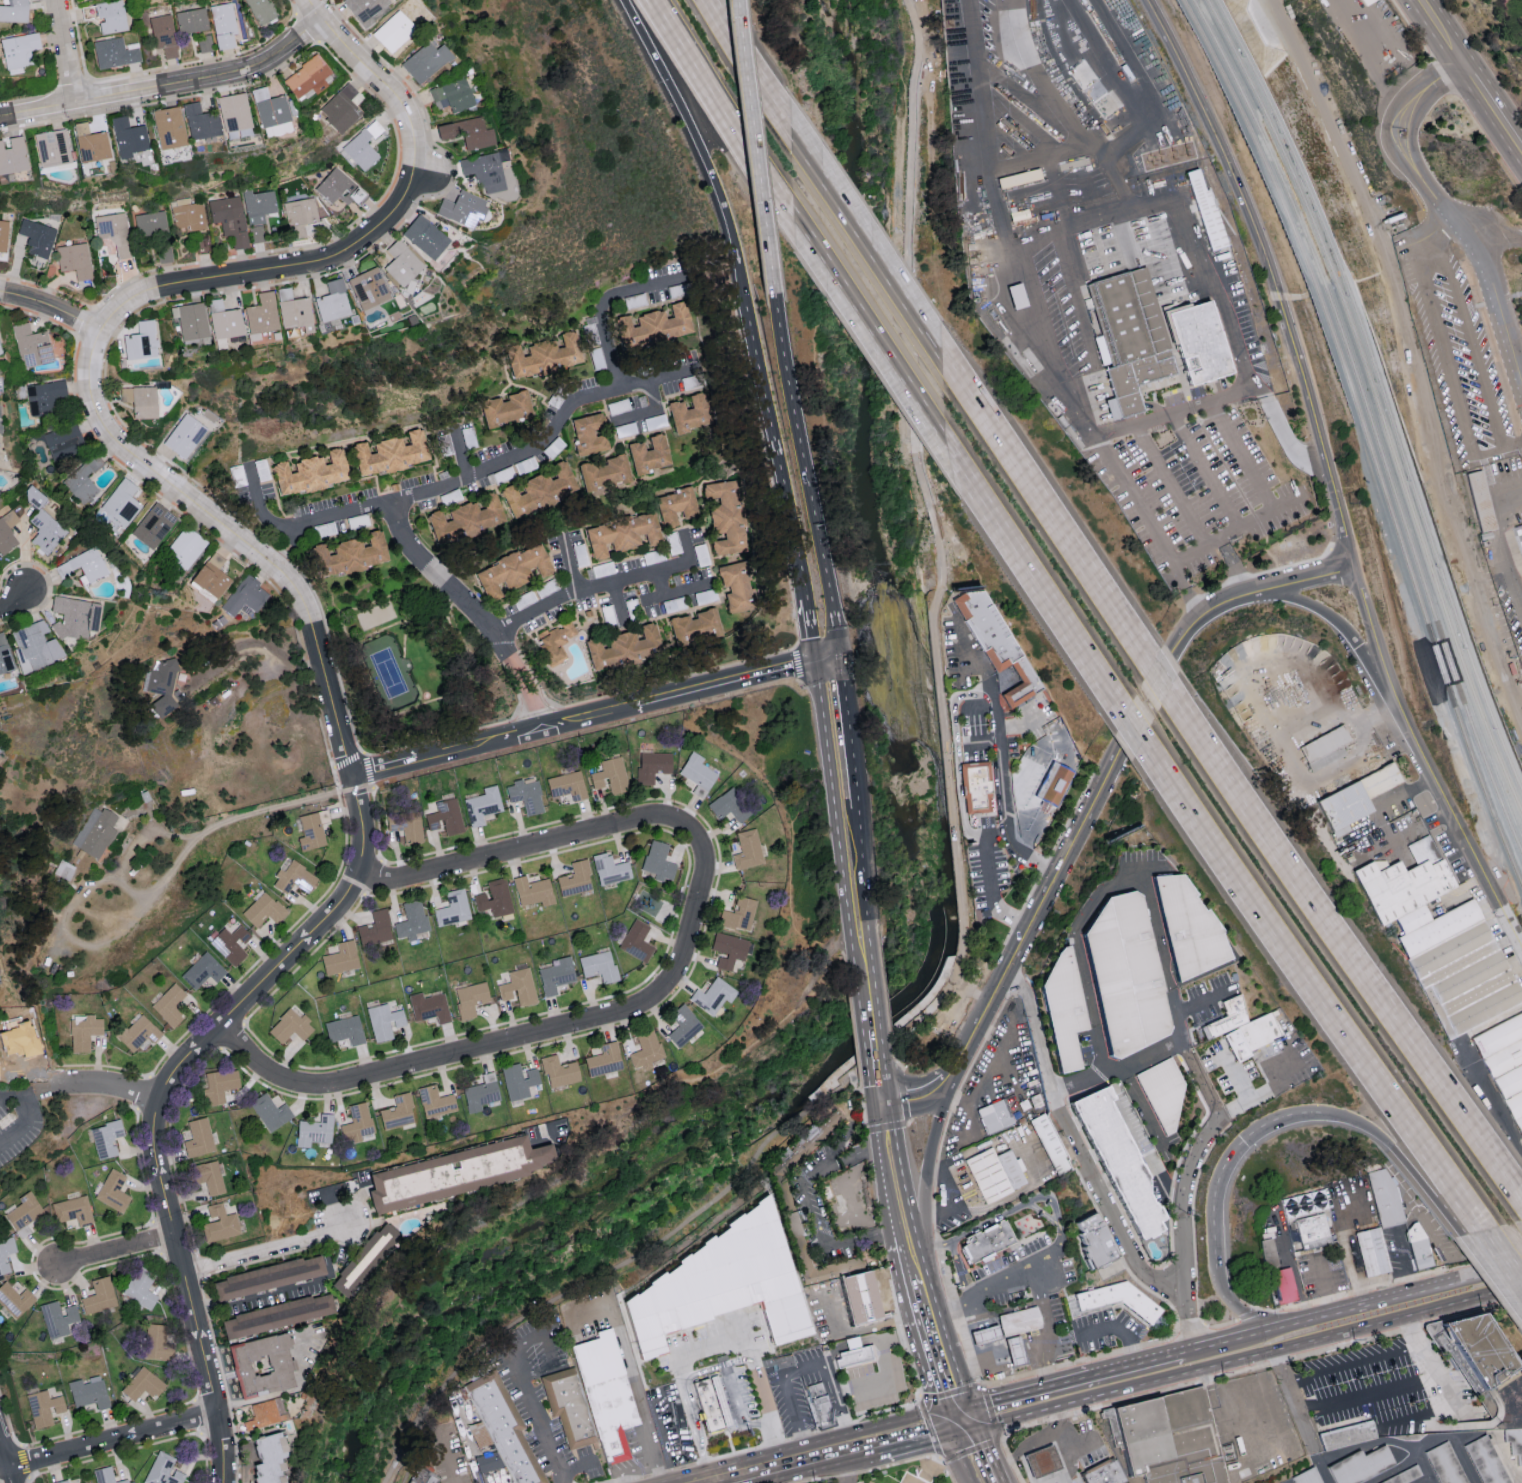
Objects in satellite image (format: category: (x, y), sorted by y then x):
building: (1366, 1)
building: (261, 10)
building: (363, 10)
building: (14, 11)
building: (111, 16)
building: (191, 20)
building: (223, 24)
road: (1441, 27)
building: (392, 31)
building: (163, 34)
building: (19, 49)
road: (68, 52)
building: (114, 53)
road: (747, 55)
building: (424, 61)
building: (306, 77)
road: (167, 87)
building: (450, 94)
road: (1490, 101)
building: (342, 107)
road: (715, 108)
building: (232, 111)
building: (270, 112)
building: (199, 121)
road: (1325, 124)
building: (167, 127)
building: (466, 132)
building: (127, 136)
building: (89, 143)
building: (361, 146)
building: (51, 147)
road: (705, 147)
road: (753, 148)
building: (13, 155)
road: (1051, 156)
building: (485, 170)
building: (1024, 177)
building: (339, 187)
building: (259, 205)
road: (1434, 207)
building: (463, 208)
building: (1206, 208)
building: (300, 215)
building: (230, 218)
road: (1484, 219)
building: (151, 223)
road: (1411, 232)
building: (114, 233)
building: (257, 233)
building: (3, 234)
building: (425, 236)
building: (37, 237)
road: (865, 238)
building: (75, 259)
building: (402, 262)
road: (1270, 274)
building: (369, 288)
building: (333, 301)
road: (601, 307)
road: (51, 309)
building: (294, 310)
road: (113, 314)
building: (261, 315)
building: (190, 321)
building: (223, 322)
building: (654, 328)
road: (1468, 334)
building: (1128, 338)
road: (870, 339)
building: (141, 341)
building: (1198, 343)
building: (32, 345)
parking lot: (1456, 348)
building: (0, 352)
building: (544, 356)
road: (1449, 370)
railway: (1382, 391)
building: (45, 396)
building: (140, 401)
railway: (1376, 403)
building: (506, 409)
road: (1177, 409)
building: (689, 413)
road: (1428, 415)
railway: (1370, 423)
road: (1285, 430)
building: (589, 434)
building: (184, 435)
railway: (1365, 438)
building: (64, 441)
road: (777, 452)
building: (391, 453)
road: (1242, 453)
building: (649, 454)
road: (506, 459)
road: (1205, 468)
building: (605, 472)
building: (312, 473)
road: (806, 478)
building: (83, 480)
road: (1170, 483)
parking lot: (1195, 488)
building: (540, 491)
building: (33, 496)
road: (1040, 501)
building: (1480, 501)
building: (121, 503)
building: (677, 506)
road: (260, 512)
road: (1256, 516)
building: (726, 517)
building: (465, 520)
building: (154, 525)
road: (1147, 525)
building: (1521, 528)
building: (7, 531)
building: (45, 531)
building: (622, 534)
building: (186, 547)
road: (287, 547)
road: (1193, 549)
road: (1498, 551)
building: (350, 554)
road: (568, 561)
road: (1233, 563)
building: (83, 565)
road: (1023, 570)
building: (512, 571)
road: (1257, 574)
building: (212, 575)
road: (938, 578)
road: (586, 586)
building: (735, 586)
building: (245, 596)
road: (14, 601)
road: (477, 607)
building: (74, 617)
road: (1193, 620)
road: (1338, 623)
road: (1495, 623)
building: (695, 627)
road: (813, 630)
building: (555, 642)
building: (996, 644)
building: (36, 645)
road: (249, 645)
building: (624, 648)
building: (4, 656)
traffic signals: (827, 661)
road: (1160, 682)
building: (161, 684)
road: (976, 710)
road: (1307, 716)
road: (589, 717)
road: (1278, 727)
road: (1126, 728)
parking lot: (972, 732)
road: (836, 734)
road: (980, 741)
building: (1325, 750)
road: (956, 759)
road: (998, 759)
road: (1425, 764)
building: (653, 766)
building: (698, 774)
building: (610, 776)
building: (567, 785)
building: (975, 787)
building: (1054, 787)
building: (526, 795)
building: (1355, 798)
building: (482, 804)
building: (729, 805)
road: (1377, 809)
building: (446, 816)
road: (625, 824)
building: (406, 825)
building: (312, 828)
road: (1419, 828)
building: (95, 831)
road: (994, 833)
building: (748, 849)
road: (1050, 853)
building: (658, 860)
parking lot: (984, 864)
building: (610, 868)
building: (64, 869)
river: (919, 871)
road: (853, 874)
road: (1058, 874)
building: (294, 877)
building: (575, 878)
building: (1400, 883)
building: (533, 890)
road: (149, 893)
road: (989, 895)
road: (1460, 895)
building: (495, 897)
building: (263, 909)
building: (452, 909)
building: (739, 913)
building: (412, 920)
building: (375, 928)
building: (1188, 929)
building: (637, 940)
building: (231, 943)
road: (1076, 946)
building: (729, 949)
building: (341, 957)
road: (1161, 960)
building: (599, 965)
road: (1353, 967)
building: (1458, 968)
building: (203, 969)
building: (556, 974)
building: (1125, 976)
road: (867, 986)
building: (518, 987)
road: (1010, 990)
building: (713, 995)
road: (885, 996)
building: (470, 998)
building: (170, 1004)
road: (1315, 1005)
building: (429, 1006)
building: (1214, 1008)
building: (1061, 1010)
building: (384, 1021)
building: (683, 1025)
building: (290, 1026)
road: (853, 1027)
building: (345, 1029)
road: (977, 1029)
building: (84, 1031)
building: (137, 1032)
building: (1259, 1033)
building: (10, 1034)
building: (1235, 1045)
building: (646, 1049)
road: (1185, 1050)
building: (604, 1059)
road: (877, 1060)
road: (418, 1062)
building: (1505, 1065)
road: (989, 1066)
road: (1470, 1067)
road: (1116, 1070)
building: (559, 1071)
road: (1098, 1073)
road: (1234, 1074)
road: (845, 1078)
building: (518, 1080)
building: (218, 1084)
road: (108, 1085)
road: (1262, 1087)
road: (37, 1088)
building: (481, 1092)
road: (928, 1093)
road: (162, 1094)
building: (1164, 1097)
road: (881, 1098)
building: (435, 1101)
road: (893, 1105)
traffic signals: (883, 1107)
road: (967, 1110)
building: (271, 1111)
building: (398, 1112)
road: (29, 1114)
road: (862, 1114)
road: (905, 1115)
building: (997, 1119)
building: (357, 1122)
building: (314, 1130)
building: (199, 1137)
building: (106, 1138)
building: (1054, 1151)
road: (1144, 1151)
road: (1403, 1158)
road: (1197, 1159)
road: (1227, 1163)
building: (1117, 1166)
building: (459, 1171)
road: (1363, 1173)
building: (994, 1174)
road: (892, 1175)
road: (1089, 1175)
building: (210, 1176)
road: (924, 1184)
road: (934, 1187)
road: (1022, 1190)
building: (113, 1191)
road: (952, 1193)
road: (1321, 1199)
building: (1386, 1200)
road: (812, 1207)
building: (73, 1210)
building: (23, 1213)
building: (788, 1213)
road: (1414, 1215)
road: (1192, 1219)
road: (1058, 1226)
building: (1313, 1230)
building: (1092, 1246)
building: (1420, 1248)
building: (989, 1249)
building: (6, 1252)
road: (116, 1252)
building: (1267, 1252)
building: (1372, 1253)
road: (263, 1255)
building: (364, 1258)
road: (1123, 1263)
road: (1156, 1266)
road: (914, 1267)
road: (1496, 1269)
building: (268, 1276)
road: (590, 1281)
road: (1392, 1283)
building: (723, 1284)
road: (1326, 1285)
building: (141, 1287)
building: (1283, 1287)
building: (870, 1292)
road: (261, 1294)
building: (99, 1295)
building: (14, 1299)
building: (851, 1299)
building: (1120, 1303)
road: (1361, 1306)
road: (1242, 1310)
road: (925, 1311)
building: (277, 1314)
road: (587, 1316)
building: (58, 1317)
road: (1250, 1317)
road: (856, 1324)
building: (1019, 1325)
road: (1220, 1325)
road: (1191, 1326)
road: (1121, 1328)
road: (1363, 1329)
parking lot: (1105, 1330)
road: (1413, 1331)
road: (907, 1337)
building: (984, 1339)
gas station: (984, 1339)
building: (156, 1342)
road: (527, 1342)
road: (1036, 1344)
building: (1474, 1347)
road: (549, 1349)
road: (937, 1351)
road: (1186, 1352)
building: (1015, 1355)
gas station: (1015, 1355)
building: (853, 1357)
road: (910, 1360)
road: (886, 1361)
road: (1073, 1362)
building: (264, 1364)
road: (720, 1364)
road: (1044, 1364)
road: (1132, 1364)
road: (1353, 1365)
road: (804, 1367)
road: (834, 1367)
road: (1259, 1367)
road: (1191, 1370)
building: (143, 1384)
road: (1136, 1384)
road: (685, 1388)
road: (1367, 1390)
road: (285, 1391)
building: (88, 1392)
road: (760, 1392)
road: (951, 1392)
road: (1024, 1392)
road: (634, 1394)
building: (605, 1397)
road: (953, 1398)
road: (1293, 1398)
road: (1076, 1400)
road: (1518, 1401)
road: (1455, 1405)
building: (43, 1406)
building: (708, 1406)
road: (1055, 1406)
building: (820, 1409)
building: (568, 1411)
building: (263, 1414)
road: (536, 1418)
road: (1007, 1418)
traffic signals: (962, 1425)
road: (1468, 1425)
road: (930, 1426)
building: (507, 1427)
road: (922, 1434)
building: (1347, 1434)
road: (998, 1439)
road: (114, 1442)
building: (1168, 1442)
road: (1034, 1443)
road: (762, 1445)
road: (1075, 1445)
building: (1515, 1445)
road: (973, 1451)
road: (1275, 1452)
road: (5, 1455)
road: (412, 1455)
building: (269, 1458)
road: (447, 1458)
road: (1011, 1461)
building: (1486, 1462)
road: (804, 1463)
building: (1042, 1465)
gas station: (1042, 1465)
building: (1445, 1465)
road: (1076, 1466)
road: (844, 1467)
road: (5, 1469)
road: (947, 1469)
building: (1363, 1469)
building: (163, 1470)
road: (868, 1470)
building: (1104, 1474)
building: (106, 1475)
road: (11, 1477)
building: (1408, 1477)
building: (427, 1478)
building: (1307, 1478)
road: (986, 1480)
building: (61, 1481)
building: (88, 1482)

